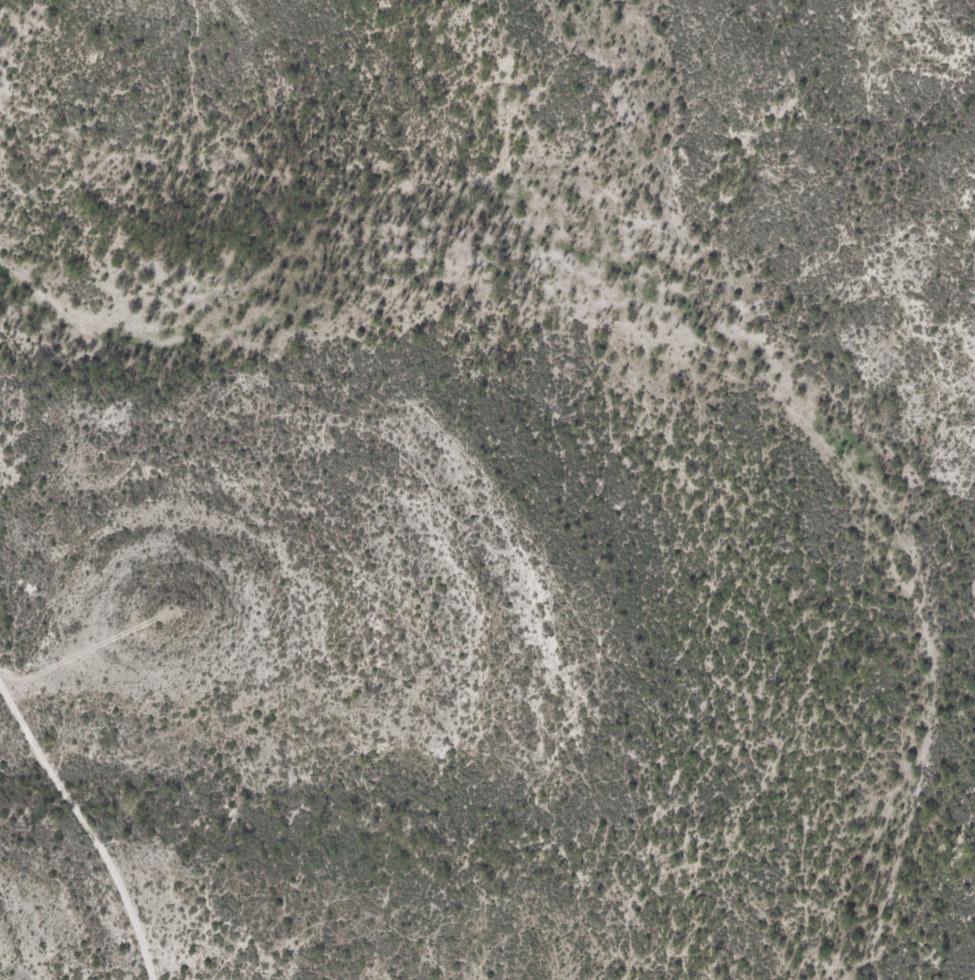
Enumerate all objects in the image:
road: (89, 829)

